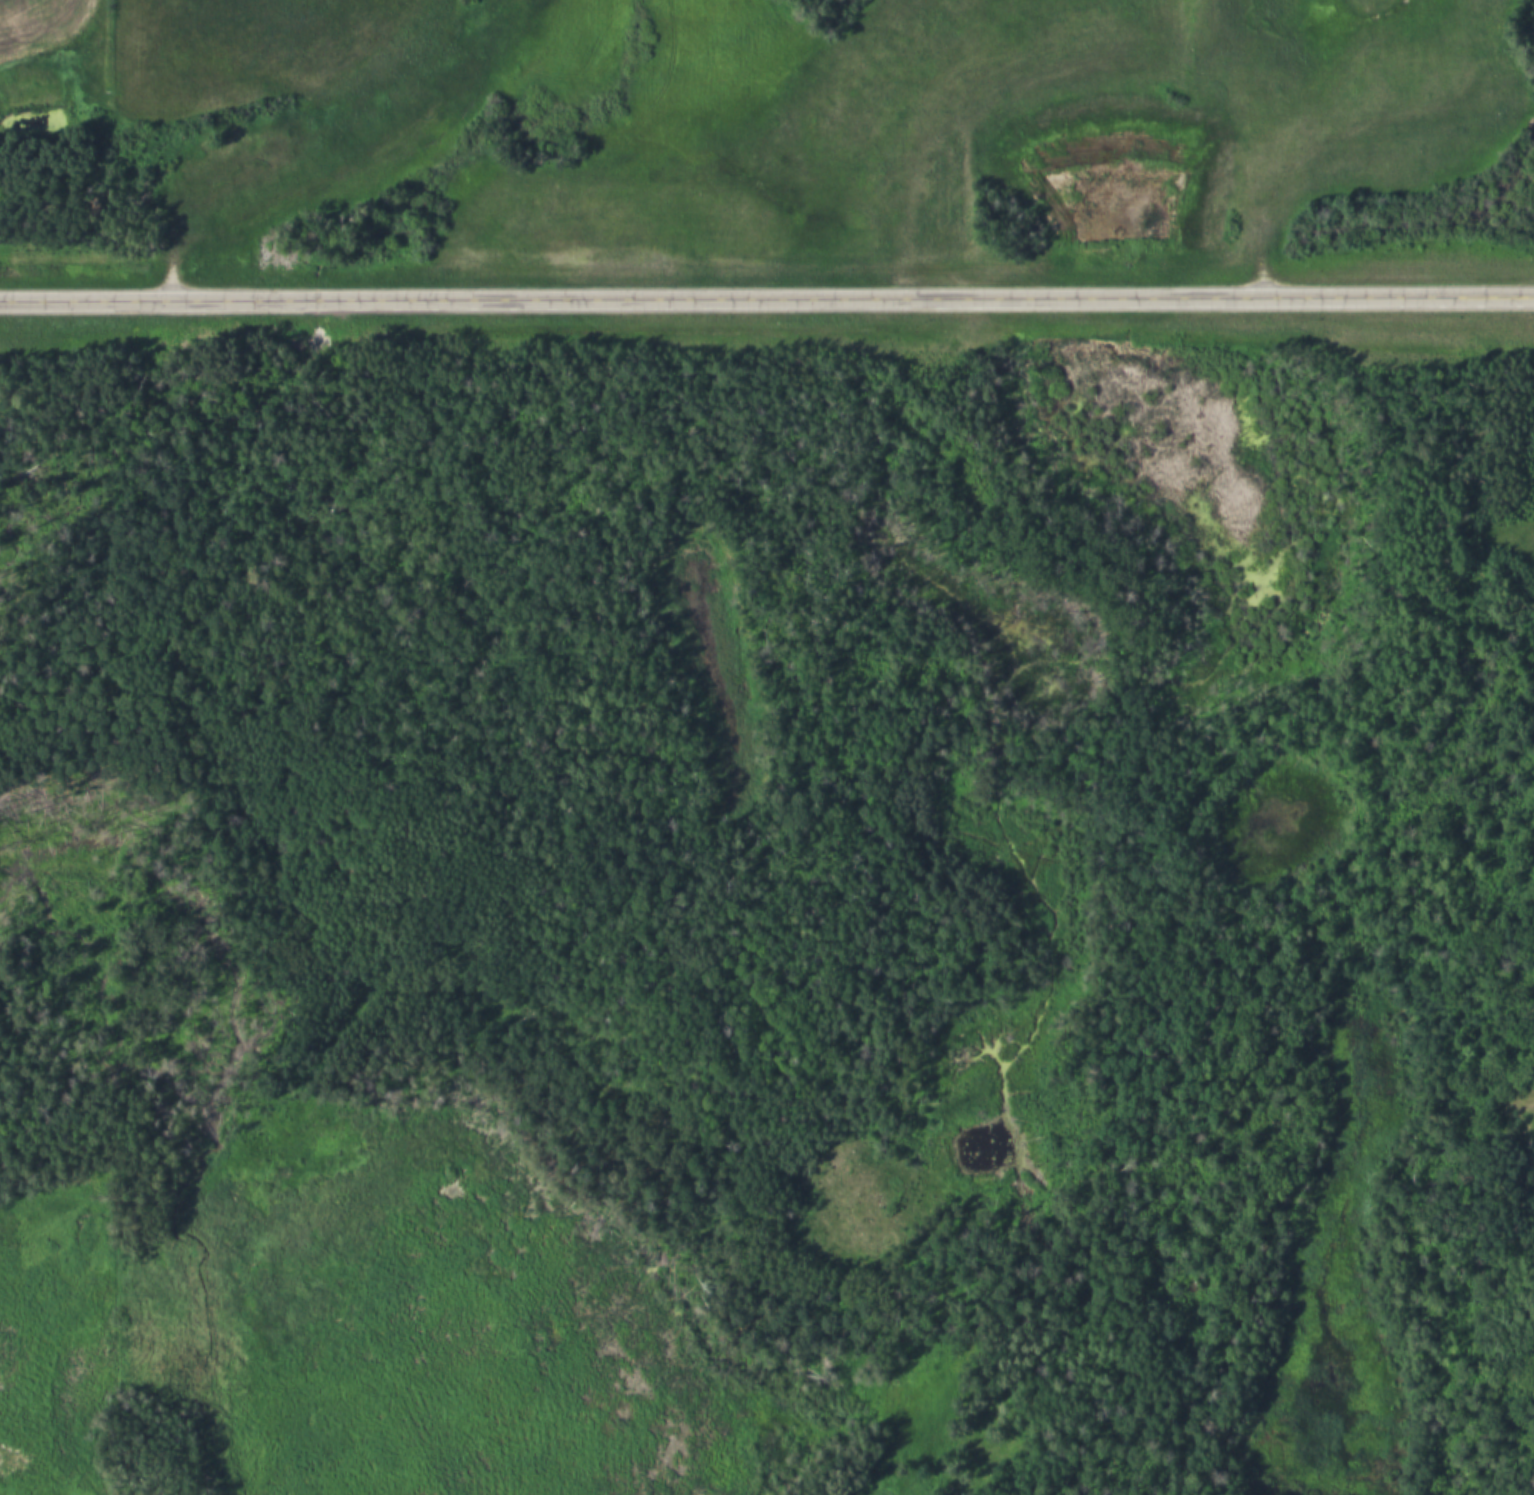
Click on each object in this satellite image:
road: (766, 301)

